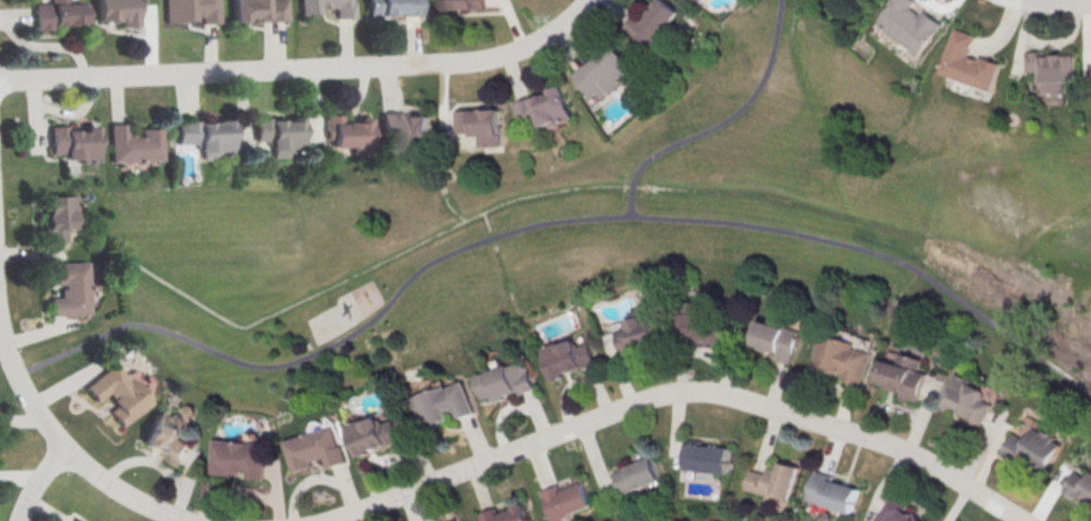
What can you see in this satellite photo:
road: (1054, 1)
building: (464, 4)
building: (393, 7)
building: (191, 10)
building: (258, 10)
building: (309, 10)
building: (117, 11)
building: (54, 13)
building: (657, 22)
building: (912, 24)
building: (971, 61)
road: (302, 66)
building: (1055, 69)
building: (608, 72)
building: (547, 106)
road: (716, 119)
building: (482, 124)
building: (404, 129)
building: (345, 130)
building: (203, 134)
building: (277, 136)
building: (72, 141)
building: (135, 143)
building: (58, 217)
road: (549, 221)
building: (68, 288)
building: (698, 326)
building: (639, 332)
building: (778, 340)
building: (840, 356)
building: (567, 357)
road: (20, 369)
building: (904, 376)
building: (506, 380)
road: (672, 391)
building: (114, 393)
building: (967, 397)
building: (443, 403)
building: (373, 433)
building: (166, 437)
building: (1033, 447)
building: (315, 449)
building: (706, 457)
building: (241, 458)
building: (638, 475)
road: (38, 480)
building: (775, 480)
building: (1079, 484)
road: (115, 492)
building: (834, 492)
building: (566, 499)
building: (896, 512)
building: (506, 514)
building: (77, 520)

